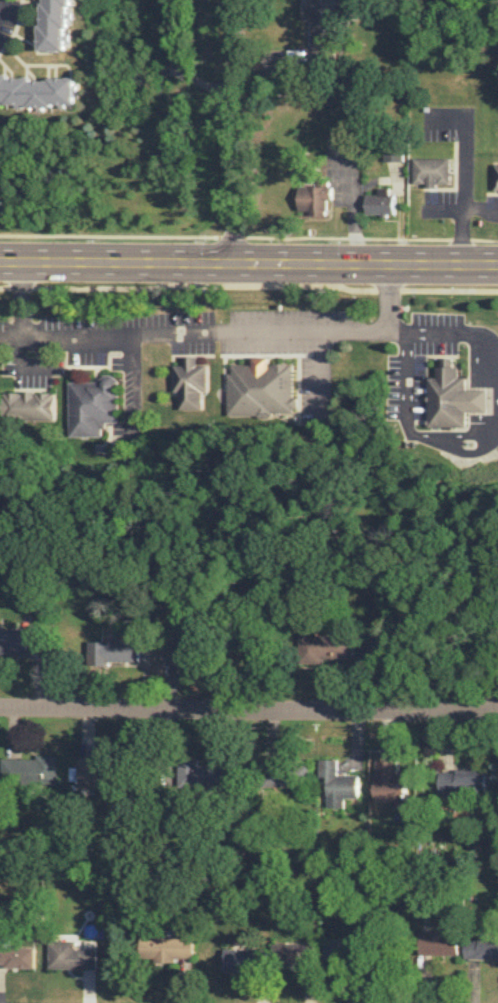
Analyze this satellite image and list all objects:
road: (32, 1)
road: (35, 5)
road: (28, 22)
building: (52, 25)
road: (14, 28)
building: (321, 28)
road: (32, 44)
road: (38, 64)
road: (2, 68)
road: (7, 68)
road: (24, 70)
road: (53, 70)
road: (46, 72)
road: (29, 73)
building: (37, 91)
road: (229, 133)
building: (395, 153)
building: (432, 170)
road: (462, 175)
building: (496, 176)
road: (380, 180)
building: (316, 196)
building: (381, 202)
road: (351, 206)
road: (460, 210)
road: (249, 238)
road: (248, 266)
road: (249, 293)
road: (387, 298)
road: (20, 299)
road: (229, 329)
building: (189, 381)
road: (404, 384)
building: (260, 387)
building: (450, 395)
building: (27, 404)
building: (91, 404)
road: (497, 410)
building: (21, 641)
building: (326, 646)
building: (185, 649)
building: (113, 651)
road: (249, 712)
building: (30, 769)
building: (208, 773)
building: (97, 774)
building: (284, 774)
building: (462, 779)
building: (337, 783)
building: (391, 783)
building: (438, 943)
building: (482, 947)
building: (166, 948)
building: (342, 948)
building: (292, 954)
building: (16, 955)
building: (70, 955)
building: (244, 958)

